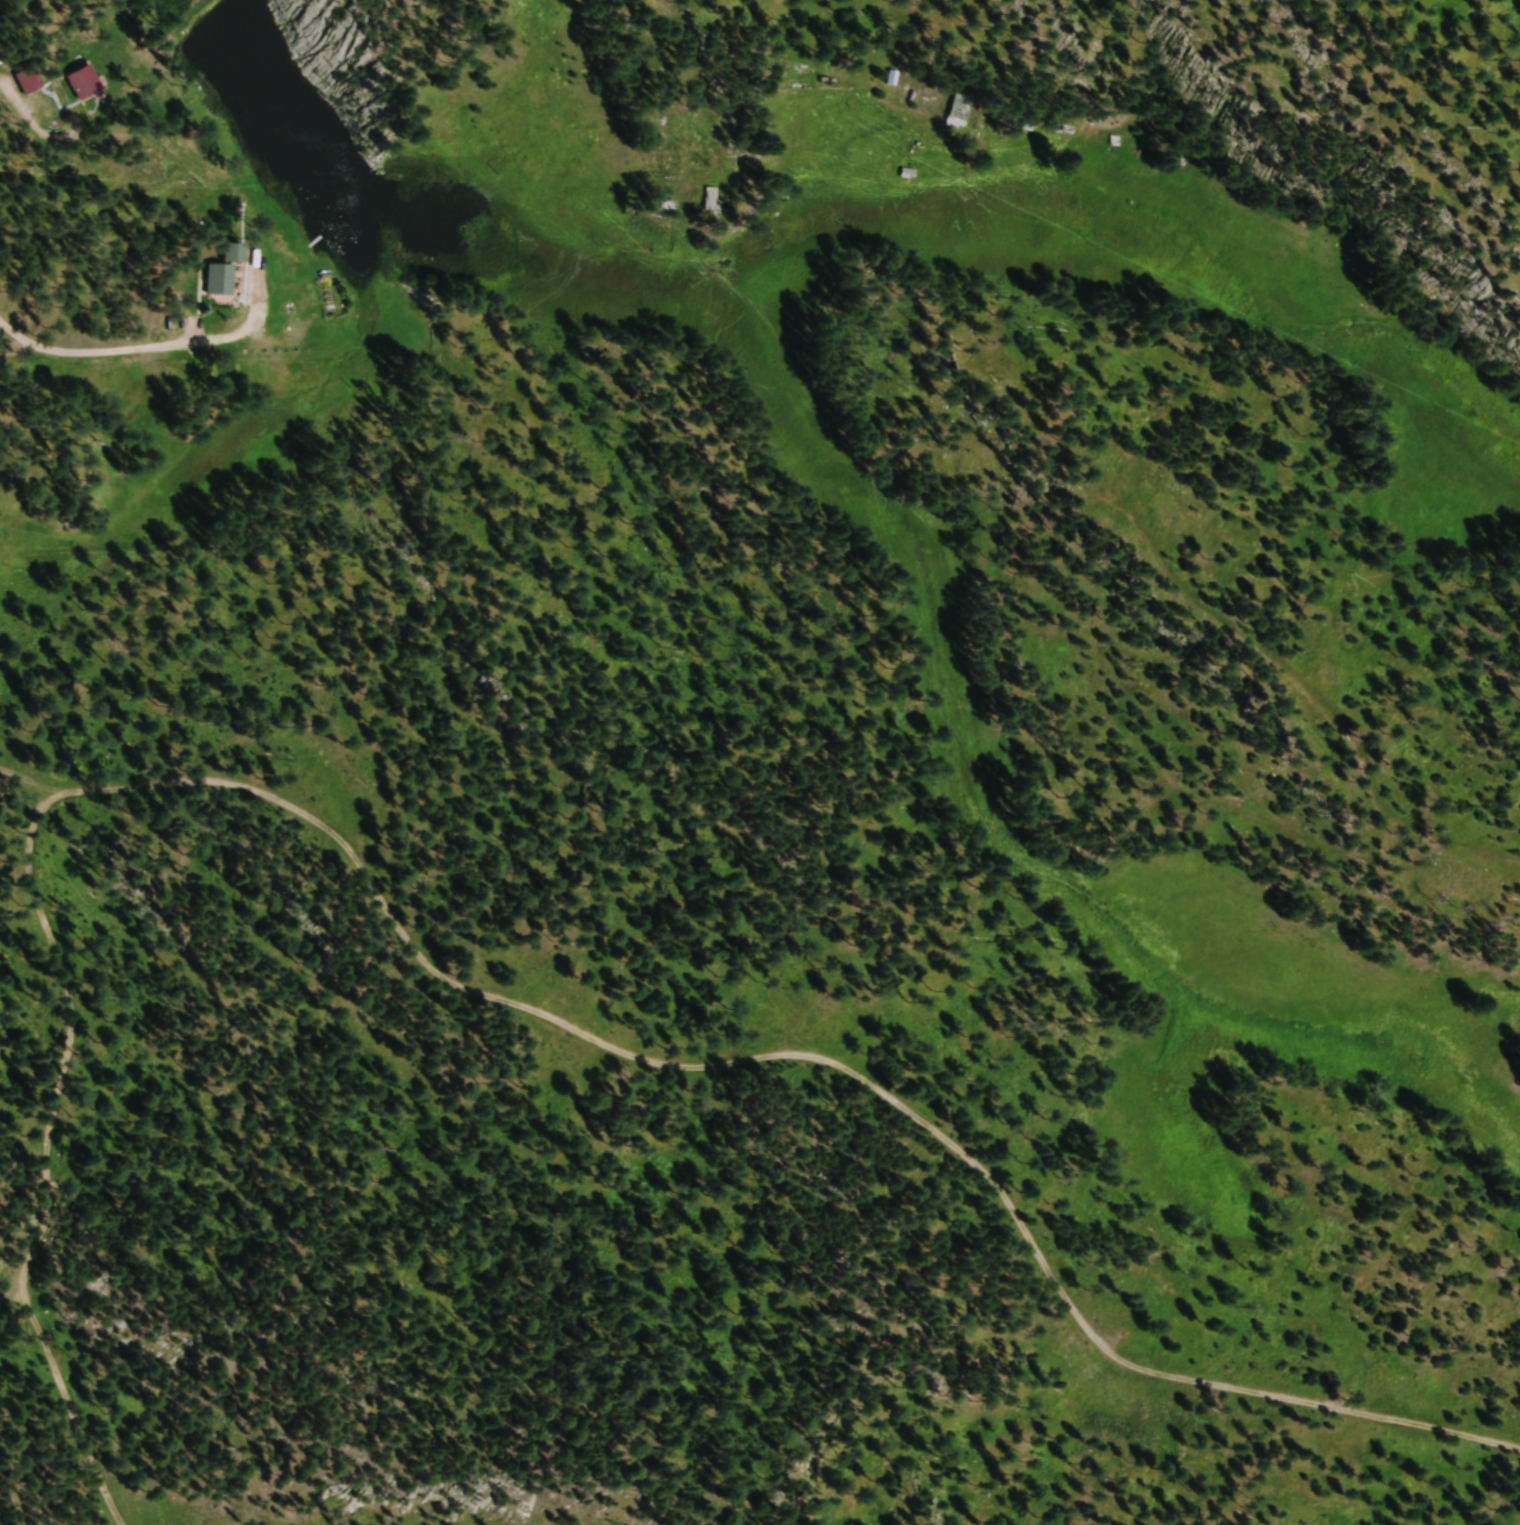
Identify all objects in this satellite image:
road: (810, 35)
building: (26, 83)
building: (894, 83)
building: (83, 84)
building: (960, 112)
building: (908, 177)
building: (711, 201)
building: (221, 273)
road: (780, 1053)
road: (42, 1158)
road: (11, 1293)

